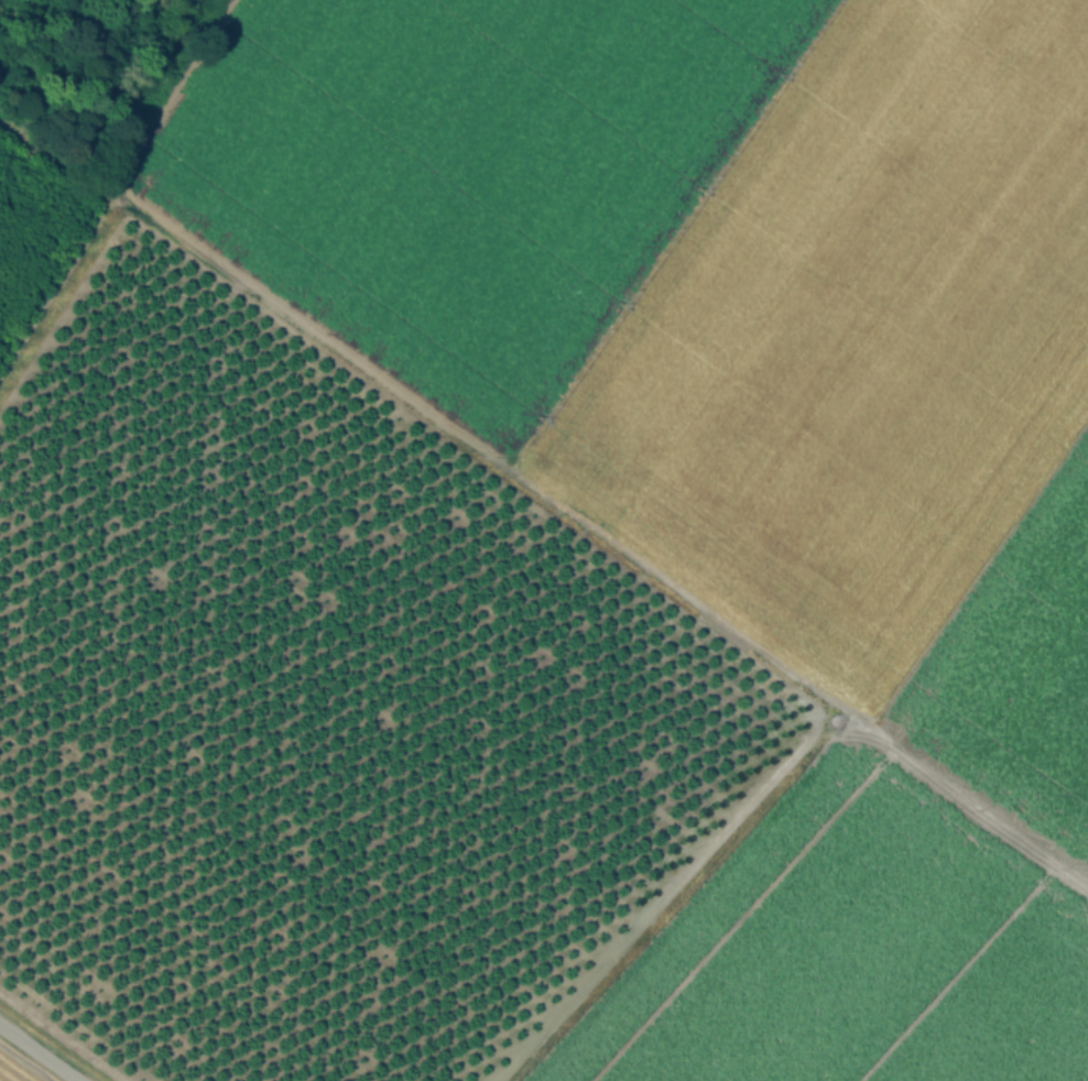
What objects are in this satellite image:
crop: (743, 444)
road: (37, 1053)
crop: (17, 1068)

